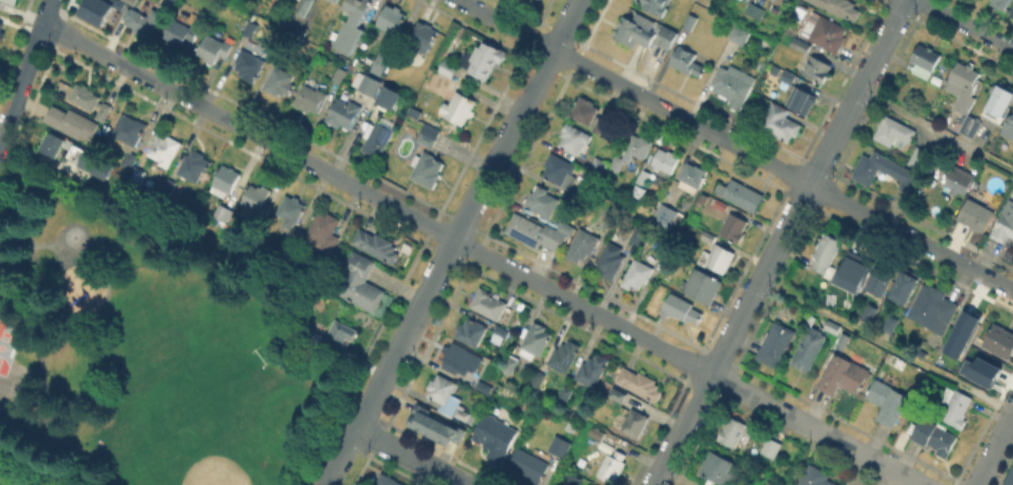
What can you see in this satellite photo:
building: (132, 0)
building: (335, 0)
building: (11, 1)
building: (1000, 3)
building: (124, 4)
building: (655, 5)
building: (304, 7)
building: (841, 7)
building: (755, 9)
building: (1011, 12)
building: (106, 14)
building: (392, 19)
building: (691, 21)
building: (144, 22)
building: (352, 24)
road: (965, 24)
building: (247, 27)
building: (632, 29)
building: (1, 31)
building: (181, 32)
building: (827, 33)
building: (662, 34)
building: (740, 35)
building: (421, 37)
building: (801, 45)
building: (215, 48)
building: (482, 60)
building: (925, 61)
building: (377, 62)
building: (687, 62)
building: (249, 65)
building: (772, 69)
building: (818, 69)
road: (25, 70)
building: (339, 74)
building: (786, 75)
building: (442, 76)
building: (280, 82)
building: (367, 84)
building: (964, 85)
building: (734, 86)
building: (385, 96)
building: (310, 98)
building: (802, 99)
building: (90, 100)
building: (999, 100)
building: (458, 108)
building: (411, 111)
building: (585, 111)
building: (343, 113)
building: (72, 122)
building: (781, 124)
building: (970, 124)
building: (599, 125)
building: (129, 129)
road: (936, 130)
building: (895, 133)
building: (1008, 134)
building: (429, 135)
building: (377, 139)
building: (574, 140)
road: (735, 145)
building: (51, 146)
building: (637, 147)
building: (164, 149)
building: (921, 159)
building: (666, 161)
building: (87, 163)
building: (616, 163)
building: (599, 165)
building: (195, 167)
building: (133, 168)
building: (427, 169)
building: (901, 171)
building: (562, 175)
building: (692, 178)
building: (642, 179)
building: (226, 180)
building: (960, 181)
building: (172, 188)
building: (741, 195)
building: (258, 199)
building: (542, 201)
building: (720, 204)
building: (291, 210)
building: (222, 213)
building: (977, 215)
building: (668, 216)
building: (611, 221)
building: (1005, 224)
building: (734, 228)
building: (323, 231)
building: (538, 233)
building: (638, 235)
building: (708, 237)
road: (452, 238)
road: (779, 242)
road: (453, 243)
building: (377, 244)
building: (582, 246)
building: (823, 253)
building: (719, 259)
building: (610, 260)
building: (850, 270)
building: (636, 275)
building: (878, 278)
building: (360, 283)
building: (703, 286)
building: (905, 286)
building: (490, 304)
building: (934, 309)
building: (682, 310)
building: (866, 311)
building: (892, 322)
building: (829, 326)
building: (958, 329)
building: (472, 331)
building: (502, 331)
building: (341, 334)
building: (840, 340)
building: (537, 341)
building: (1001, 342)
park: (7, 343)
road: (887, 343)
building: (776, 344)
park: (147, 345)
building: (809, 348)
building: (565, 355)
building: (456, 358)
building: (510, 365)
building: (979, 370)
building: (592, 371)
building: (844, 375)
building: (538, 378)
building: (487, 380)
building: (640, 383)
park: (197, 390)
building: (565, 393)
building: (617, 394)
building: (448, 397)
building: (888, 401)
building: (955, 407)
building: (635, 423)
building: (435, 425)
building: (732, 432)
building: (597, 433)
building: (495, 436)
building: (934, 437)
building: (606, 442)
building: (558, 444)
building: (772, 448)
road: (994, 449)
road: (409, 456)
building: (527, 463)
building: (612, 465)
park: (216, 467)
road: (893, 468)
building: (718, 469)
road: (677, 476)
building: (1008, 476)
building: (815, 477)
building: (571, 479)
road: (6, 481)
building: (389, 481)
building: (585, 484)
building: (756, 484)
building: (763, 484)

